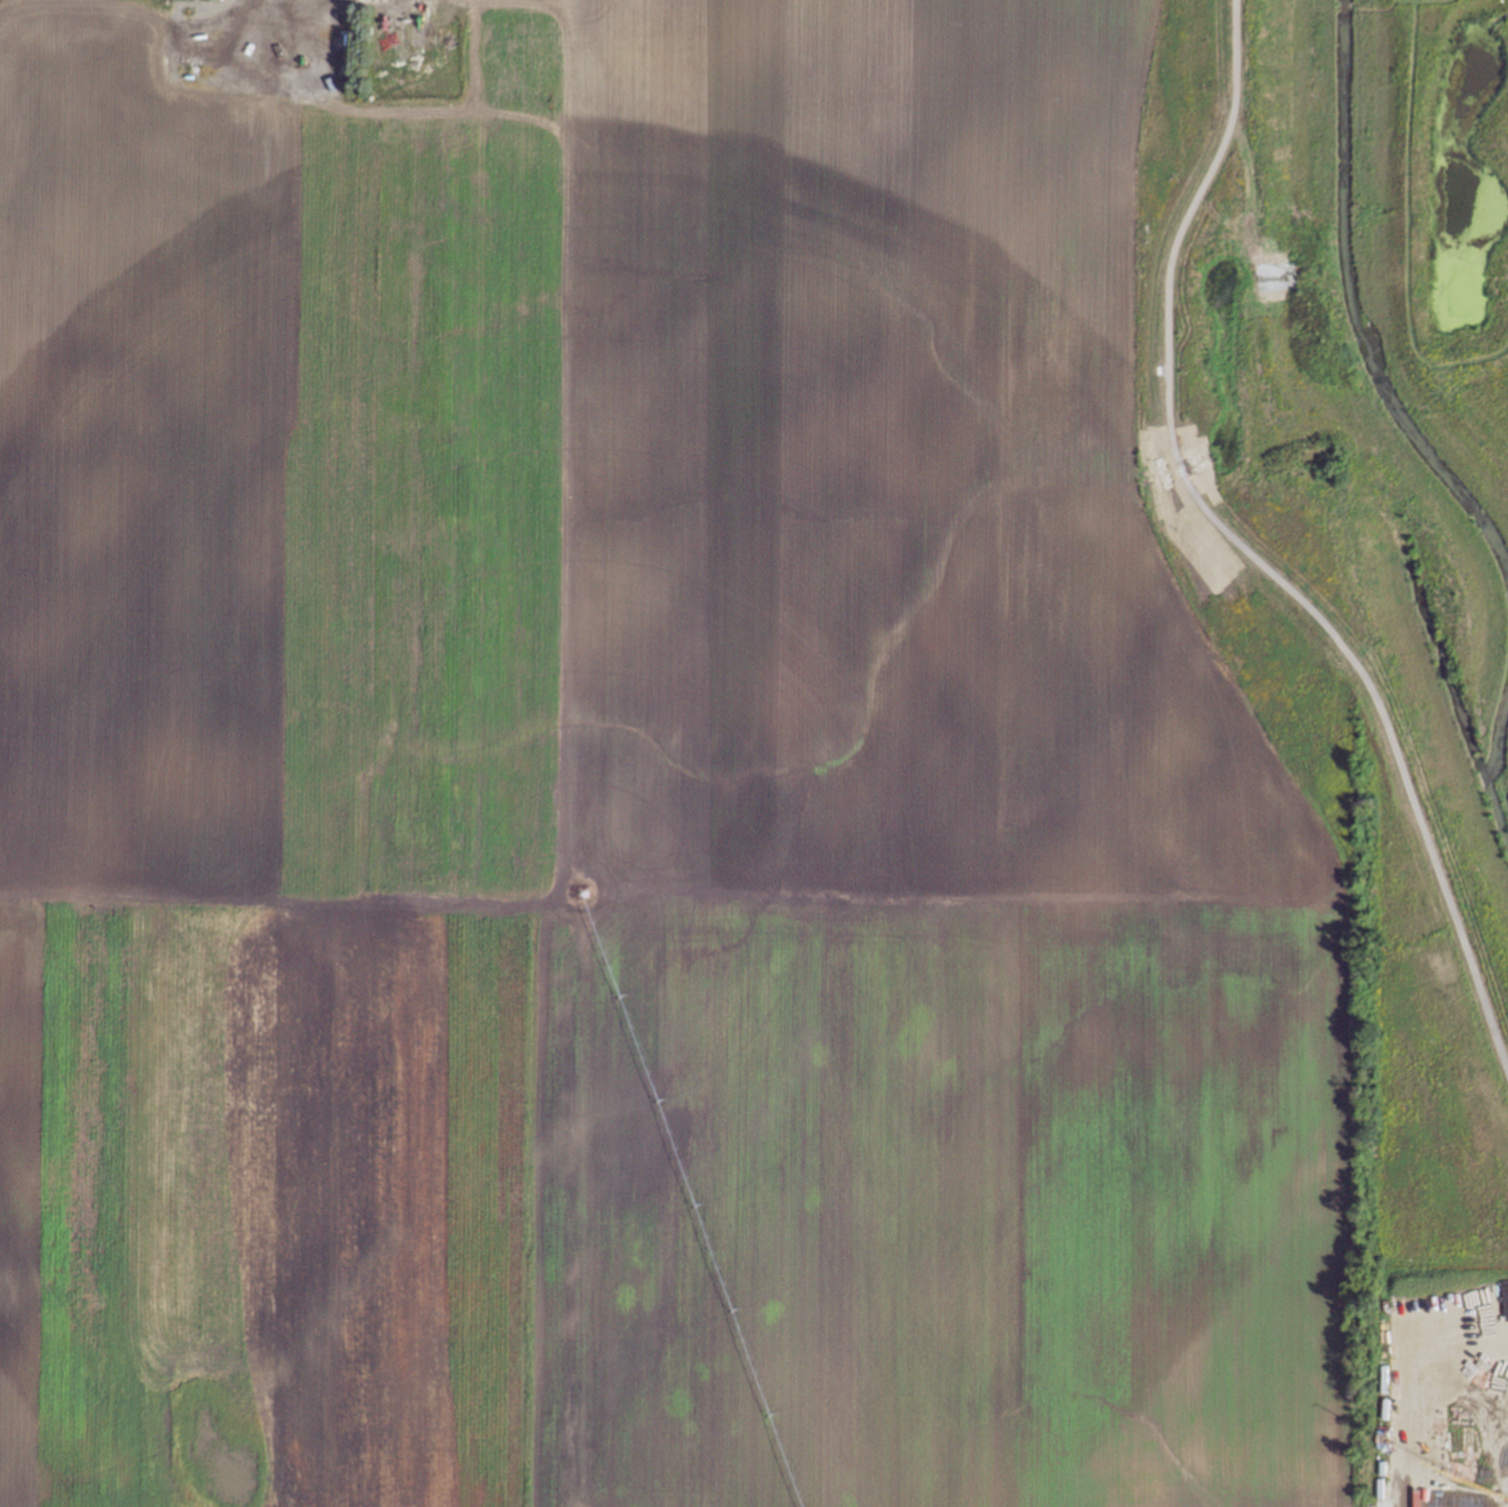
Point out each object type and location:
road: (316, 10)
road: (1255, 560)
park: (1361, 582)
crop: (635, 795)

